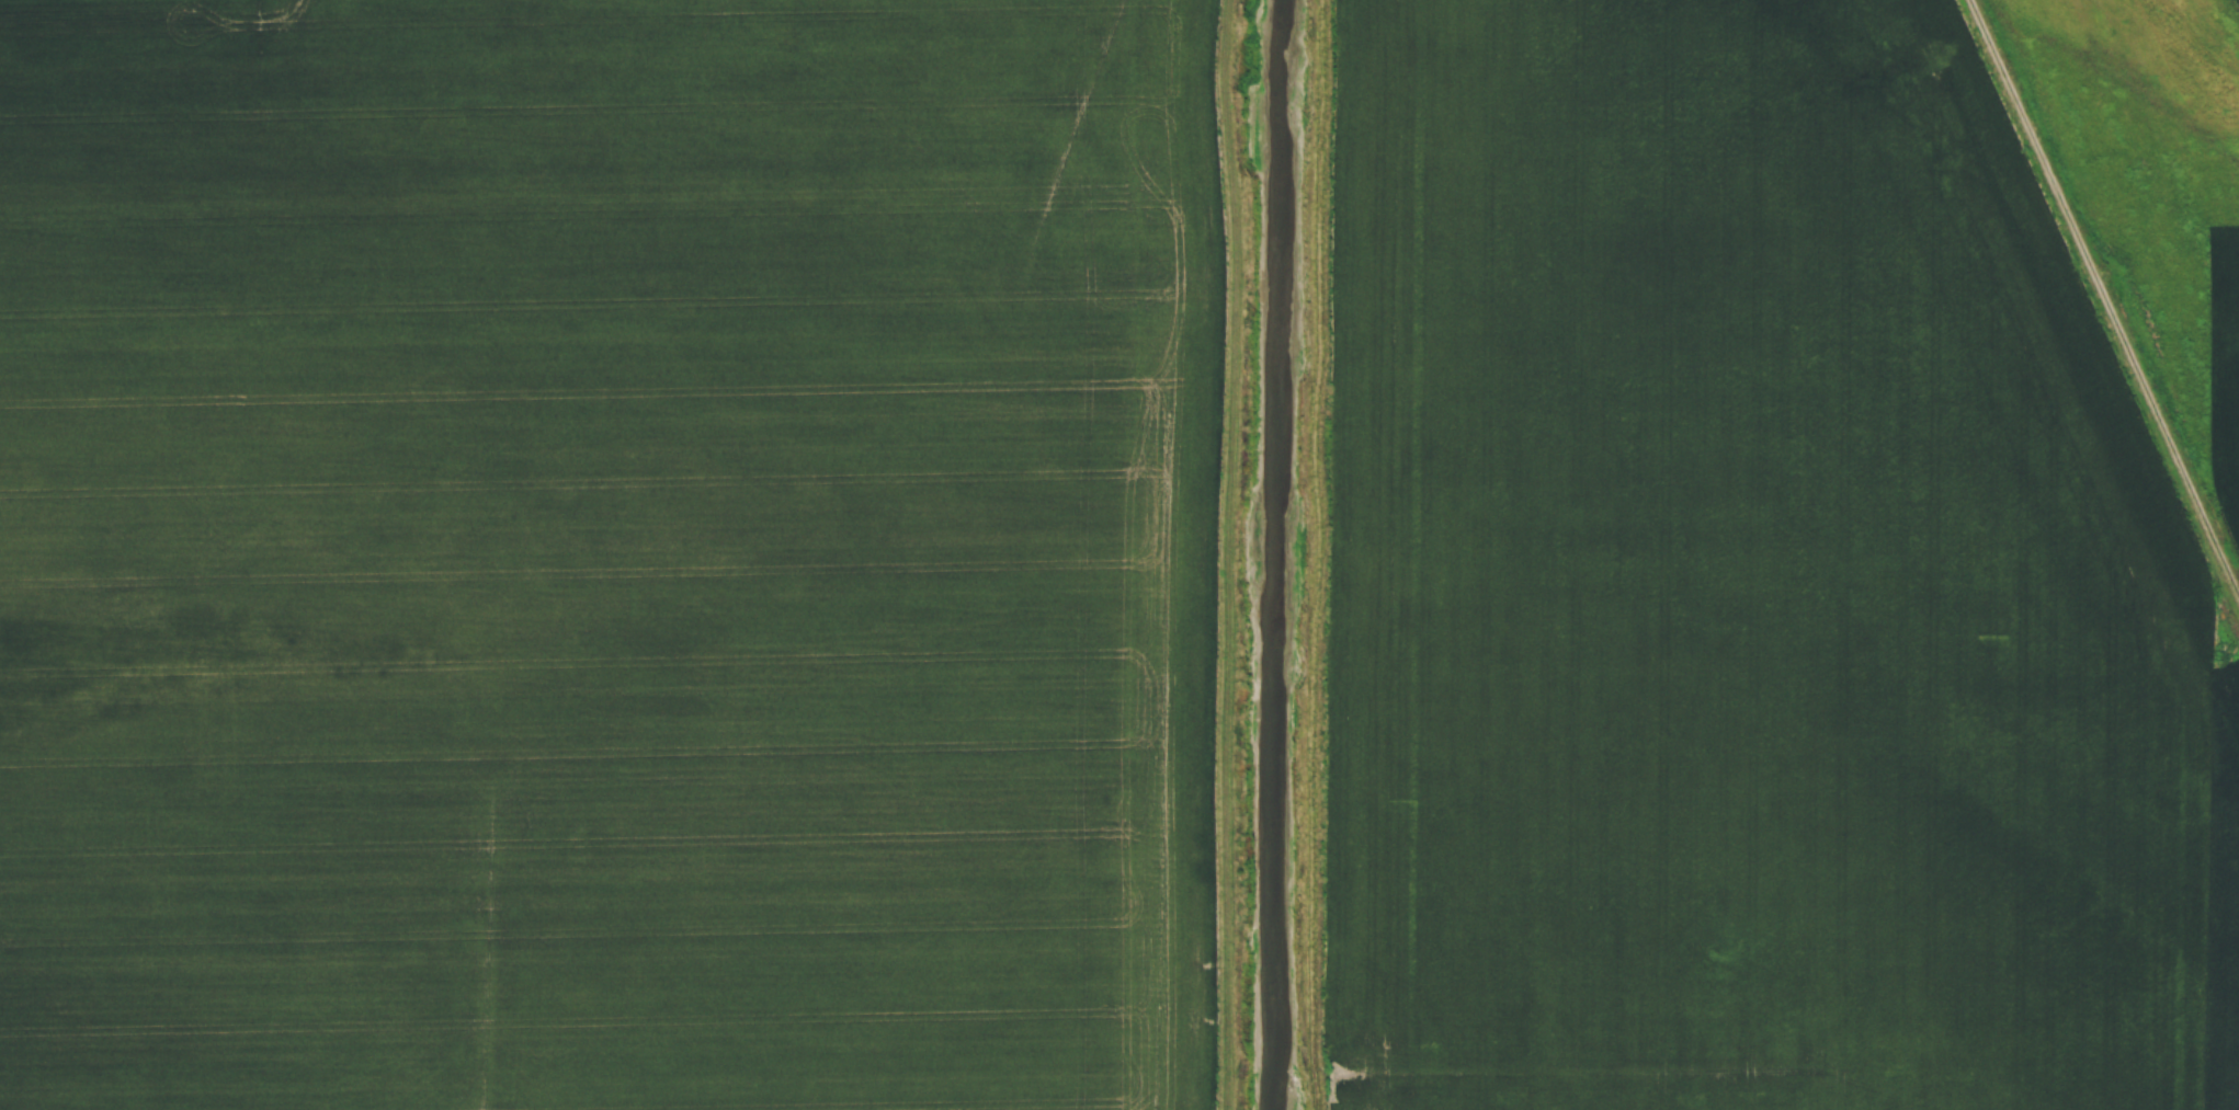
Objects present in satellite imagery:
road: (2103, 298)

